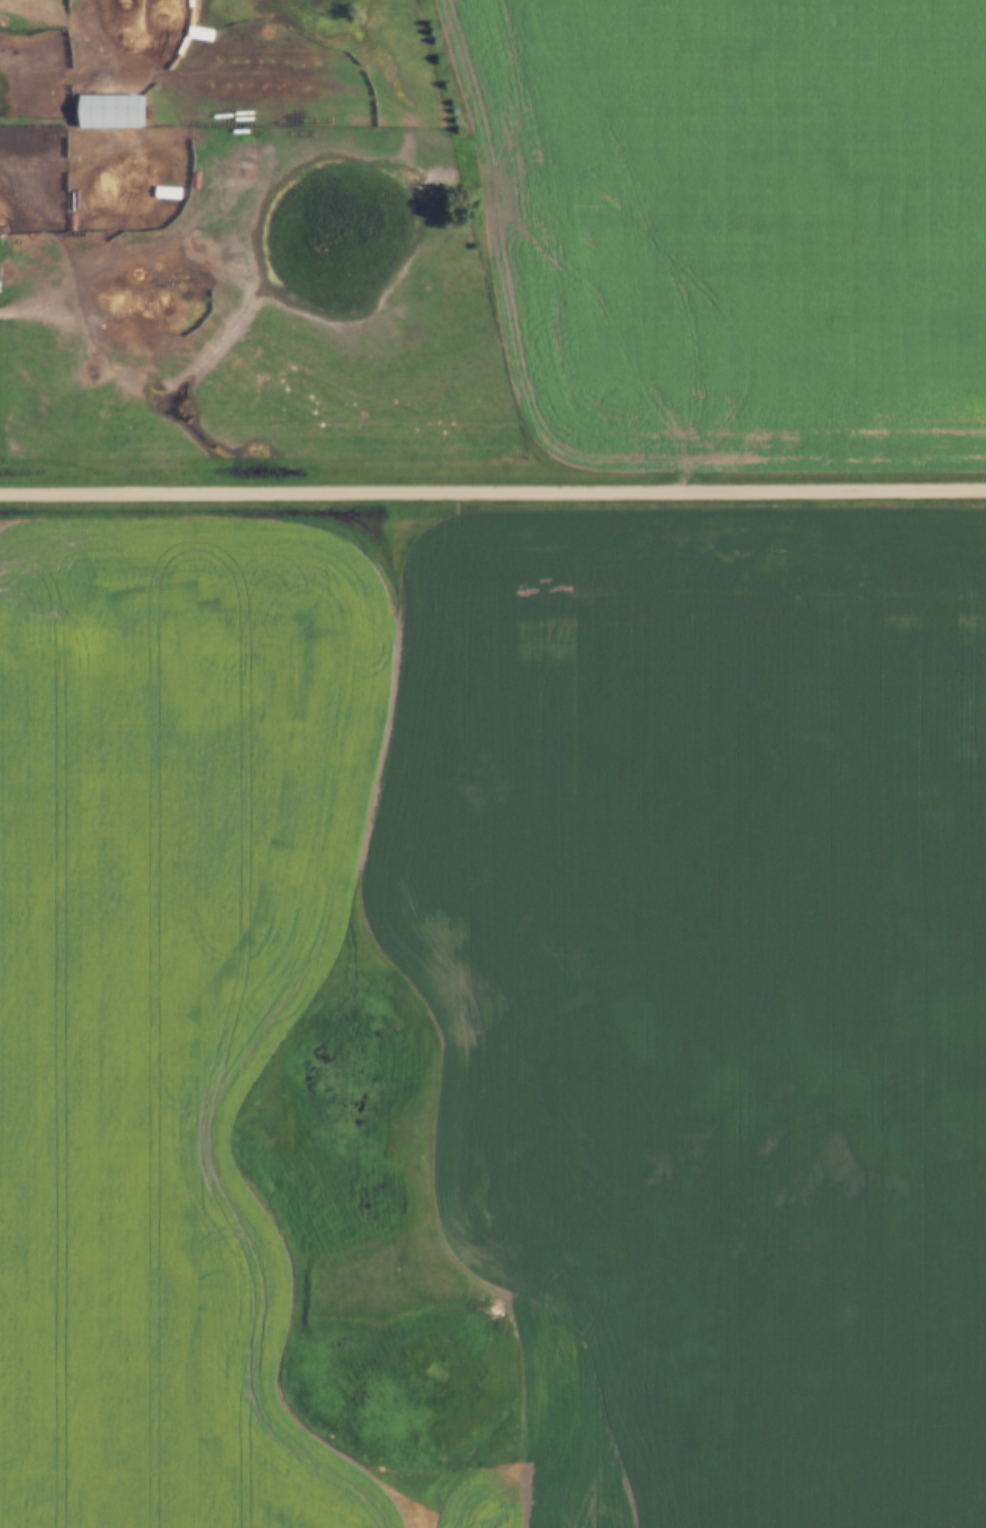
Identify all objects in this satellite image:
building: (111, 114)
road: (493, 489)

